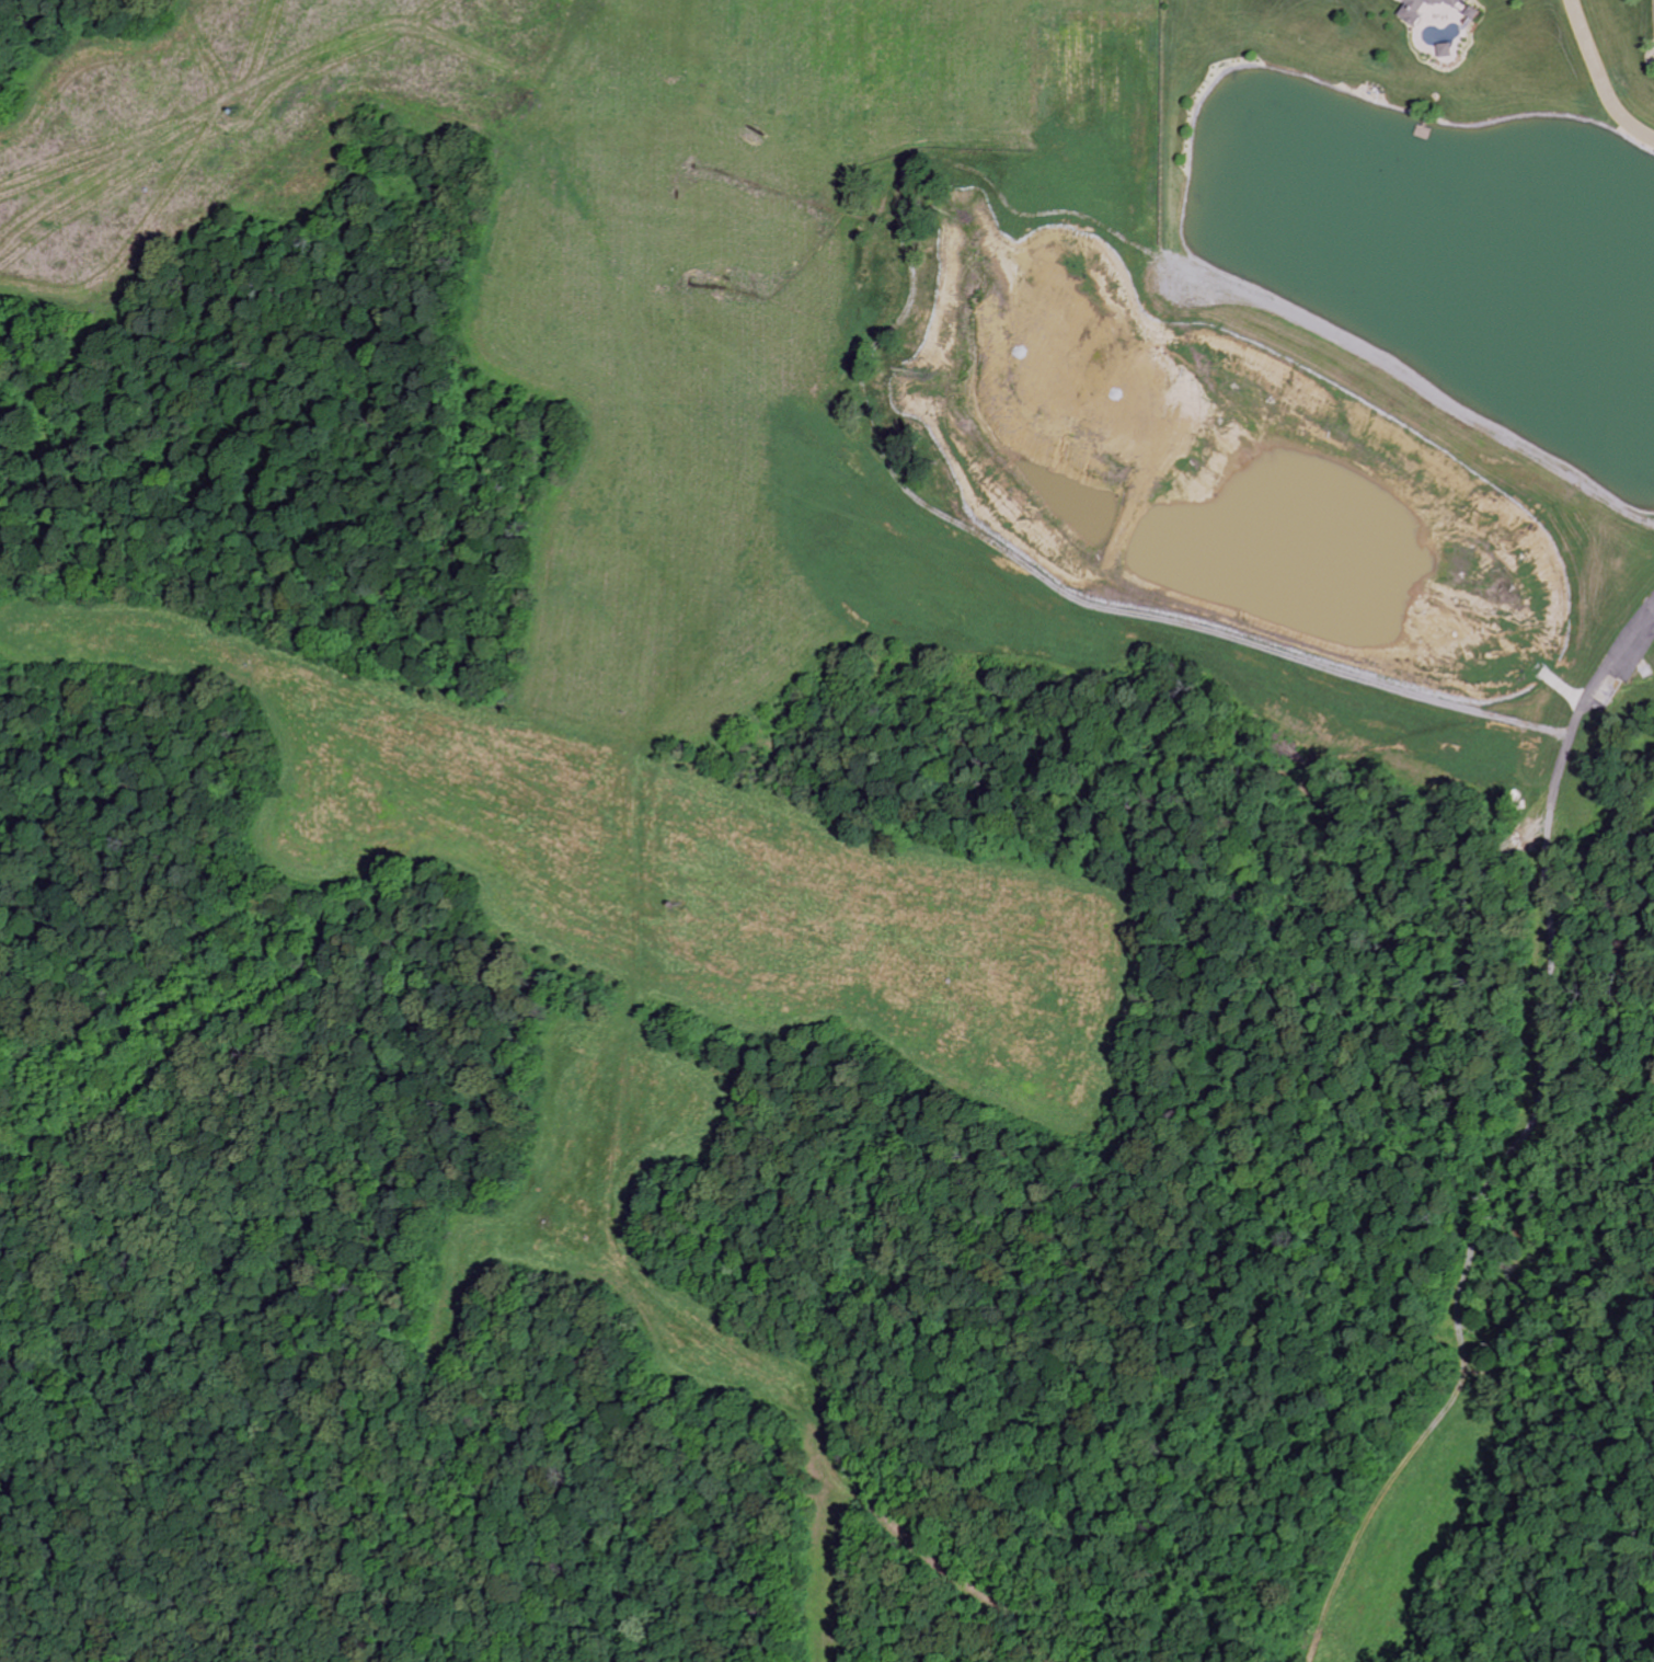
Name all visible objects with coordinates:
building: (1411, 14)
building: (1445, 50)

